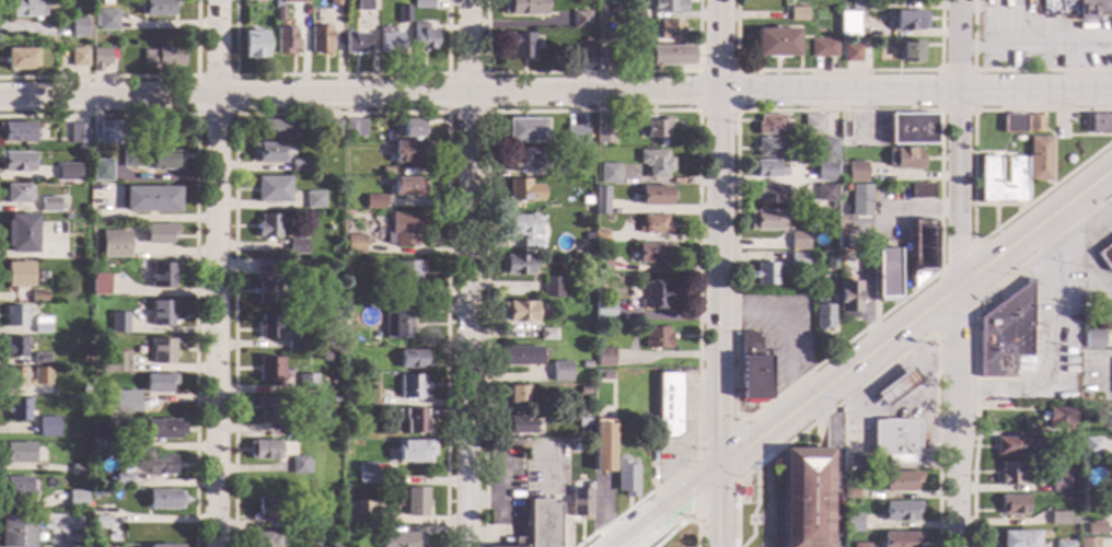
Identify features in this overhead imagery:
building: (251, 0)
building: (291, 1)
building: (589, 1)
building: (333, 2)
building: (425, 2)
building: (860, 4)
building: (364, 5)
building: (667, 5)
building: (522, 7)
building: (21, 8)
building: (157, 8)
building: (1093, 8)
building: (607, 11)
building: (402, 14)
building: (798, 14)
building: (580, 19)
building: (105, 20)
building: (910, 21)
building: (848, 24)
building: (78, 27)
building: (670, 30)
building: (421, 37)
building: (317, 39)
building: (587, 39)
building: (283, 40)
building: (387, 42)
building: (354, 43)
building: (777, 43)
building: (253, 44)
building: (521, 45)
road: (719, 46)
road: (1035, 47)
building: (823, 48)
building: (911, 51)
building: (853, 53)
building: (584, 55)
building: (670, 55)
building: (78, 57)
building: (163, 57)
building: (610, 57)
building: (19, 59)
building: (100, 59)
road: (1072, 69)
road: (837, 71)
road: (973, 71)
road: (1007, 71)
road: (737, 72)
road: (591, 73)
road: (339, 75)
road: (234, 77)
road: (136, 78)
road: (915, 91)
traffic signals: (719, 93)
road: (359, 96)
road: (622, 112)
road: (447, 113)
road: (340, 114)
building: (1100, 123)
building: (813, 124)
building: (1013, 124)
building: (1035, 124)
building: (771, 125)
building: (412, 127)
building: (354, 128)
building: (274, 129)
building: (332, 129)
building: (656, 129)
building: (844, 129)
building: (912, 129)
building: (524, 130)
building: (16, 131)
building: (109, 132)
building: (78, 133)
building: (604, 133)
building: (576, 135)
road: (958, 142)
building: (81, 148)
building: (768, 148)
building: (826, 148)
building: (267, 152)
building: (409, 152)
building: (150, 159)
building: (523, 159)
building: (904, 159)
building: (1040, 159)
building: (15, 162)
building: (656, 163)
building: (299, 165)
building: (567, 168)
building: (766, 170)
building: (825, 170)
building: (989, 170)
building: (102, 171)
building: (67, 172)
building: (385, 172)
building: (853, 172)
building: (609, 173)
building: (406, 187)
building: (273, 189)
building: (523, 190)
building: (920, 190)
building: (16, 194)
building: (771, 194)
building: (825, 194)
road: (973, 195)
building: (653, 196)
building: (150, 199)
building: (313, 199)
building: (586, 200)
building: (600, 200)
building: (860, 200)
building: (373, 201)
building: (48, 205)
road: (735, 210)
building: (766, 220)
building: (653, 224)
building: (268, 226)
road: (1034, 226)
building: (404, 230)
building: (522, 230)
building: (846, 230)
road: (195, 232)
building: (20, 233)
building: (159, 234)
building: (600, 237)
building: (798, 241)
building: (114, 244)
building: (355, 244)
building: (297, 247)
building: (598, 251)
building: (922, 251)
building: (652, 253)
building: (1105, 256)
road: (958, 258)
building: (798, 260)
building: (831, 260)
building: (514, 265)
road: (216, 272)
road: (467, 273)
building: (764, 273)
building: (885, 273)
building: (18, 275)
building: (161, 276)
building: (407, 278)
building: (265, 281)
road: (719, 281)
building: (804, 283)
building: (99, 284)
building: (551, 287)
building: (655, 295)
building: (38, 296)
building: (849, 299)
building: (586, 309)
building: (600, 310)
building: (520, 311)
building: (161, 313)
building: (15, 316)
building: (823, 316)
road: (954, 322)
building: (118, 323)
building: (40, 325)
building: (395, 325)
building: (268, 327)
road: (790, 327)
building: (1006, 333)
building: (546, 334)
building: (349, 337)
building: (656, 337)
road: (976, 338)
building: (1093, 339)
road: (1052, 340)
building: (293, 345)
building: (15, 348)
building: (161, 351)
building: (519, 356)
building: (604, 357)
building: (40, 359)
building: (84, 359)
building: (410, 359)
building: (115, 363)
building: (347, 363)
road: (892, 363)
building: (586, 364)
building: (752, 369)
building: (268, 371)
building: (560, 372)
building: (605, 375)
building: (40, 376)
building: (14, 377)
road: (836, 377)
building: (347, 382)
building: (158, 383)
building: (305, 383)
building: (410, 386)
building: (894, 388)
building: (584, 389)
building: (84, 391)
building: (97, 391)
building: (516, 394)
building: (333, 399)
building: (124, 401)
building: (83, 404)
building: (669, 405)
building: (267, 408)
building: (18, 410)
building: (362, 415)
road: (957, 416)
building: (1058, 418)
building: (414, 421)
building: (582, 422)
road: (737, 422)
building: (94, 423)
building: (1110, 423)
building: (519, 424)
road: (688, 427)
building: (47, 428)
building: (160, 429)
building: (292, 430)
building: (61, 433)
building: (103, 442)
building: (894, 442)
building: (602, 445)
building: (1091, 445)
building: (1013, 446)
building: (263, 450)
building: (413, 451)
building: (18, 453)
building: (160, 465)
building: (298, 465)
parking lot: (545, 467)
building: (78, 469)
traffic signals: (717, 469)
building: (1009, 473)
building: (364, 474)
building: (625, 476)
building: (120, 479)
building: (1057, 479)
building: (901, 481)
building: (15, 487)
building: (96, 493)
building: (850, 493)
building: (1109, 493)
road: (560, 494)
building: (804, 498)
building: (77, 500)
building: (162, 500)
building: (328, 501)
building: (415, 502)
road: (485, 502)
building: (579, 502)
building: (1012, 505)
road: (665, 508)
road: (716, 508)
building: (267, 510)
road: (503, 510)
building: (901, 511)
building: (354, 512)
building: (99, 516)
building: (1057, 517)
road: (683, 522)
building: (541, 523)
building: (853, 523)
building: (300, 524)
building: (327, 526)
building: (1096, 527)
building: (16, 531)
road: (65, 533)
building: (92, 535)
building: (684, 537)
building: (1015, 538)
building: (262, 539)
building: (399, 539)
building: (900, 539)
building: (518, 542)
building: (1087, 543)
building: (1064, 544)
building: (860, 545)
building: (160, 546)

